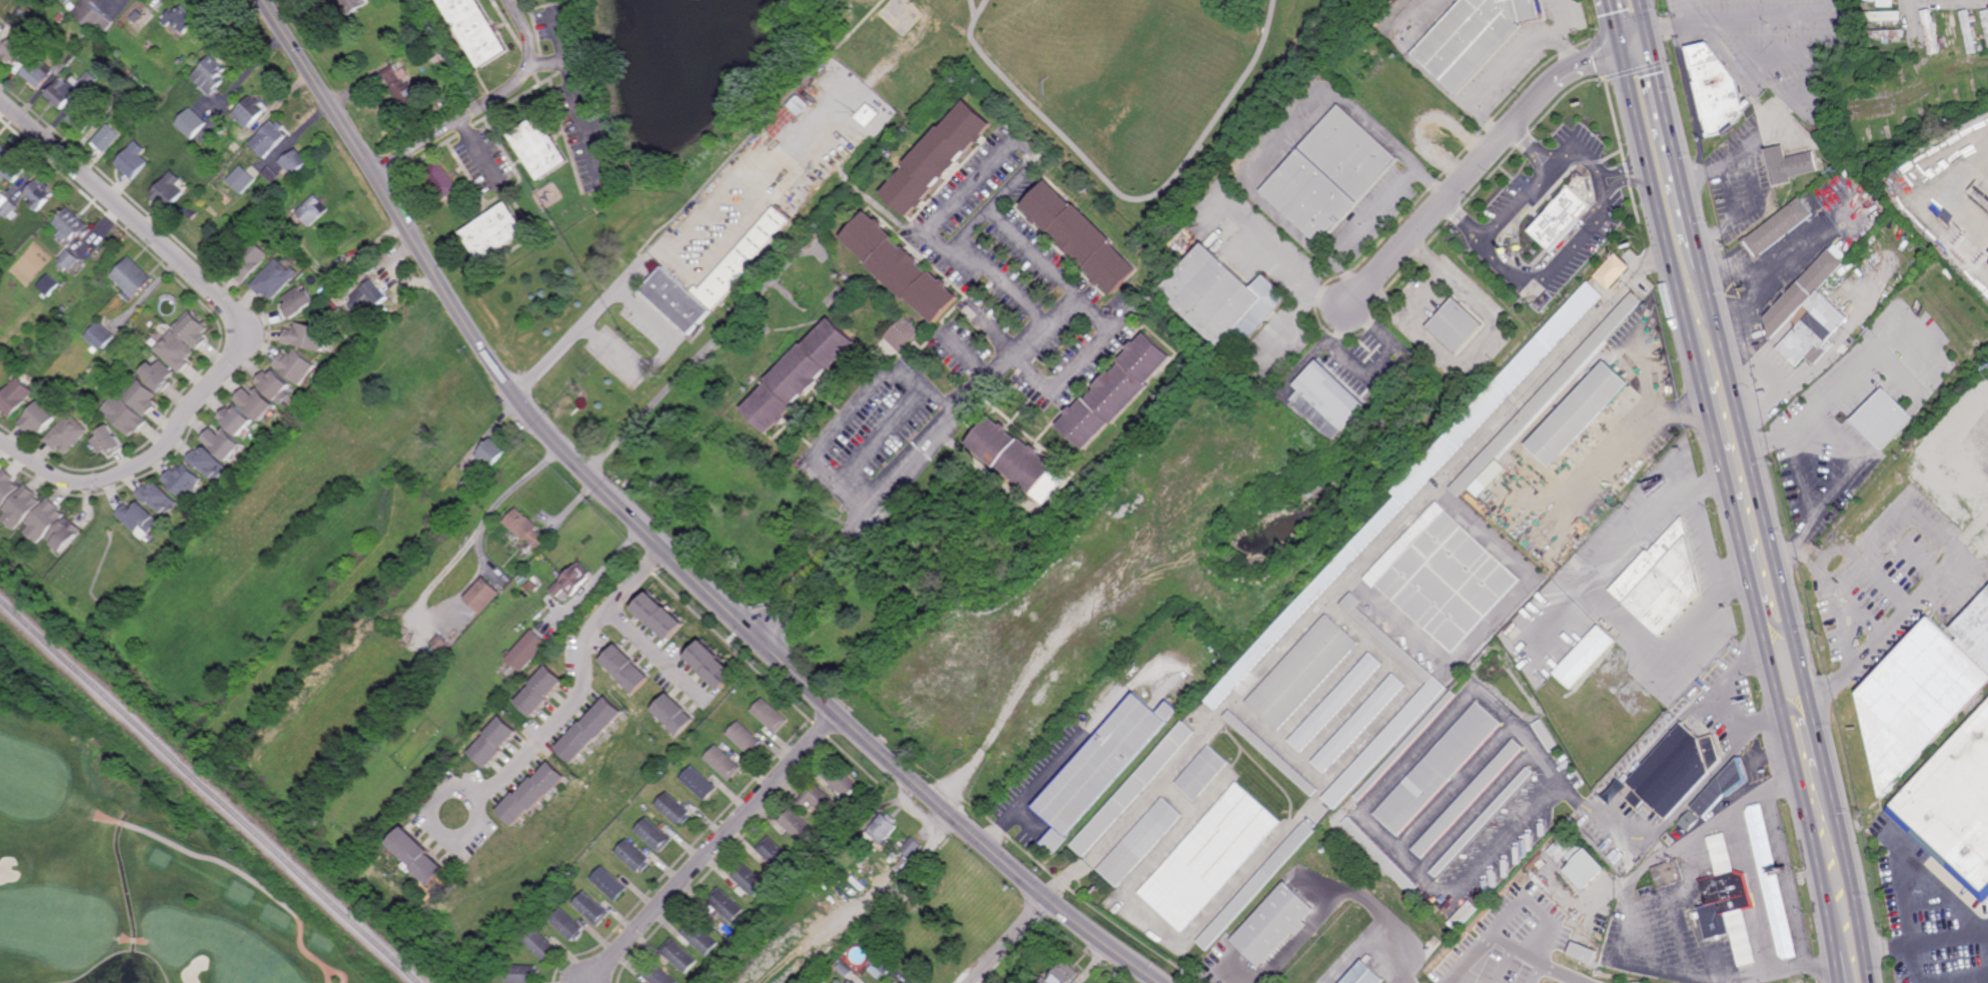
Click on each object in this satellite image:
road: (1942, 1)
building: (1885, 3)
building: (353, 5)
building: (1864, 5)
building: (73, 6)
road: (974, 9)
road: (1688, 11)
building: (90, 14)
building: (19, 15)
road: (1643, 15)
building: (60, 17)
building: (1883, 17)
road: (1759, 19)
building: (1986, 20)
building: (179, 22)
road: (1614, 22)
building: (142, 23)
road: (1915, 23)
road: (1668, 26)
building: (477, 29)
building: (1, 30)
building: (1950, 30)
building: (1957, 30)
traffic signals: (1648, 31)
building: (1930, 31)
building: (1969, 32)
building: (1886, 34)
building: (1474, 37)
building: (1981, 38)
traffic signals: (1620, 44)
building: (1870, 44)
building: (1943, 46)
building: (418, 47)
building: (13, 51)
building: (441, 56)
building: (65, 61)
road: (547, 62)
road: (1508, 66)
road: (1770, 71)
building: (37, 74)
building: (210, 76)
building: (401, 86)
building: (1715, 89)
building: (69, 90)
road: (578, 95)
road: (482, 101)
park: (910, 101)
building: (801, 105)
building: (249, 114)
building: (865, 115)
building: (83, 118)
building: (190, 125)
road: (758, 132)
road: (1288, 137)
building: (107, 139)
building: (268, 139)
building: (234, 147)
road: (477, 147)
building: (539, 148)
road: (1675, 148)
building: (2, 150)
road: (1738, 157)
building: (934, 158)
road: (1582, 160)
building: (133, 161)
building: (1820, 162)
building: (293, 164)
road: (1479, 164)
building: (1789, 164)
building: (13, 168)
power tower: (1839, 173)
building: (271, 175)
building: (1330, 175)
building: (241, 178)
building: (441, 180)
road: (752, 187)
building: (169, 189)
building: (39, 193)
road: (1954, 195)
road: (1125, 197)
building: (3, 200)
road: (1519, 204)
building: (10, 210)
road: (1750, 210)
building: (314, 211)
road: (1662, 211)
building: (191, 213)
road: (1376, 214)
building: (1557, 215)
building: (72, 225)
building: (1777, 229)
building: (494, 233)
building: (1079, 237)
building: (231, 244)
road: (720, 247)
road: (1281, 259)
building: (68, 260)
building: (248, 260)
building: (899, 269)
building: (1843, 270)
building: (1611, 271)
road: (1552, 272)
building: (1837, 274)
road: (1057, 277)
building: (131, 278)
building: (712, 278)
building: (1834, 278)
building: (274, 279)
building: (49, 285)
building: (1803, 291)
road: (1870, 294)
building: (369, 297)
building: (1221, 300)
building: (297, 303)
building: (329, 308)
building: (63, 309)
building: (806, 311)
building: (781, 315)
road: (243, 327)
building: (1457, 327)
building: (191, 329)
road: (582, 329)
building: (1813, 332)
building: (901, 334)
building: (100, 336)
building: (307, 337)
building: (774, 345)
building: (174, 350)
road: (1080, 358)
building: (739, 363)
road: (654, 365)
building: (296, 366)
building: (156, 374)
building: (800, 375)
road: (677, 378)
road: (1649, 379)
road: (1799, 381)
building: (275, 386)
building: (1115, 391)
building: (1547, 393)
building: (141, 396)
building: (14, 397)
building: (1326, 400)
building: (255, 402)
road: (1818, 408)
road: (849, 411)
building: (1576, 413)
building: (125, 416)
building: (39, 417)
building: (1883, 417)
building: (235, 419)
building: (67, 433)
road: (881, 433)
road: (1843, 435)
building: (108, 441)
building: (221, 443)
road: (1629, 444)
building: (491, 452)
building: (1016, 457)
building: (207, 462)
building: (1509, 466)
building: (0, 470)
building: (182, 480)
building: (1417, 481)
building: (471, 482)
road: (1728, 484)
building: (1481, 486)
building: (7, 487)
road: (506, 493)
road: (1759, 494)
building: (158, 498)
building: (22, 507)
building: (140, 518)
building: (45, 521)
building: (525, 530)
building: (66, 535)
road: (655, 540)
road: (1708, 540)
road: (1355, 571)
building: (1446, 576)
building: (573, 579)
building: (1661, 581)
building: (485, 594)
road: (1606, 600)
building: (660, 614)
road: (1770, 617)
road: (1891, 627)
building: (847, 644)
building: (444, 646)
building: (528, 650)
road: (660, 654)
building: (1583, 657)
building: (713, 664)
building: (626, 668)
building: (1305, 672)
road: (583, 683)
building: (540, 690)
building: (1923, 691)
building: (1337, 702)
building: (675, 714)
road: (1798, 714)
building: (771, 715)
road: (1726, 718)
road: (1763, 722)
building: (1360, 723)
building: (589, 730)
building: (1545, 736)
building: (746, 738)
building: (494, 742)
building: (1386, 742)
building: (1405, 746)
road: (1820, 747)
building: (1271, 752)
building: (685, 754)
building: (724, 763)
road: (1057, 766)
building: (1100, 767)
road: (1797, 767)
building: (1437, 768)
building: (1673, 771)
building: (1203, 773)
building: (841, 780)
building: (700, 784)
building: (1722, 787)
building: (1134, 789)
railway: (210, 790)
building: (532, 794)
road: (1611, 796)
building: (1467, 799)
building: (820, 802)
building: (1953, 808)
building: (675, 810)
road: (1526, 816)
building: (1689, 821)
building: (1481, 822)
building: (798, 827)
road: (434, 829)
building: (881, 829)
building: (656, 836)
building: (1140, 843)
road: (713, 847)
building: (1562, 847)
building: (911, 848)
building: (777, 856)
building: (1380, 856)
building: (418, 857)
building: (635, 857)
building: (1210, 857)
road: (214, 860)
park: (130, 864)
building: (900, 865)
building: (1533, 869)
building: (1583, 870)
road: (1851, 876)
building: (1664, 877)
road: (1787, 878)
building: (750, 881)
building: (1770, 883)
building: (610, 884)
building: (1256, 886)
building: (1729, 898)
building: (1518, 899)
building: (726, 905)
building: (591, 910)
building: (1501, 923)
building: (567, 926)
building: (1273, 926)
road: (1624, 932)
road: (1490, 933)
road: (1926, 938)
building: (700, 939)
road: (1006, 941)
building: (541, 947)
building: (1581, 953)
building: (678, 958)
road: (1838, 964)
building: (880, 967)
building: (844, 970)
building: (656, 974)
building: (1365, 974)
road: (1538, 974)
road: (1564, 974)
building: (522, 975)
building: (1065, 975)
building: (840, 982)
building: (851, 982)
building: (896, 982)
building: (906, 982)

